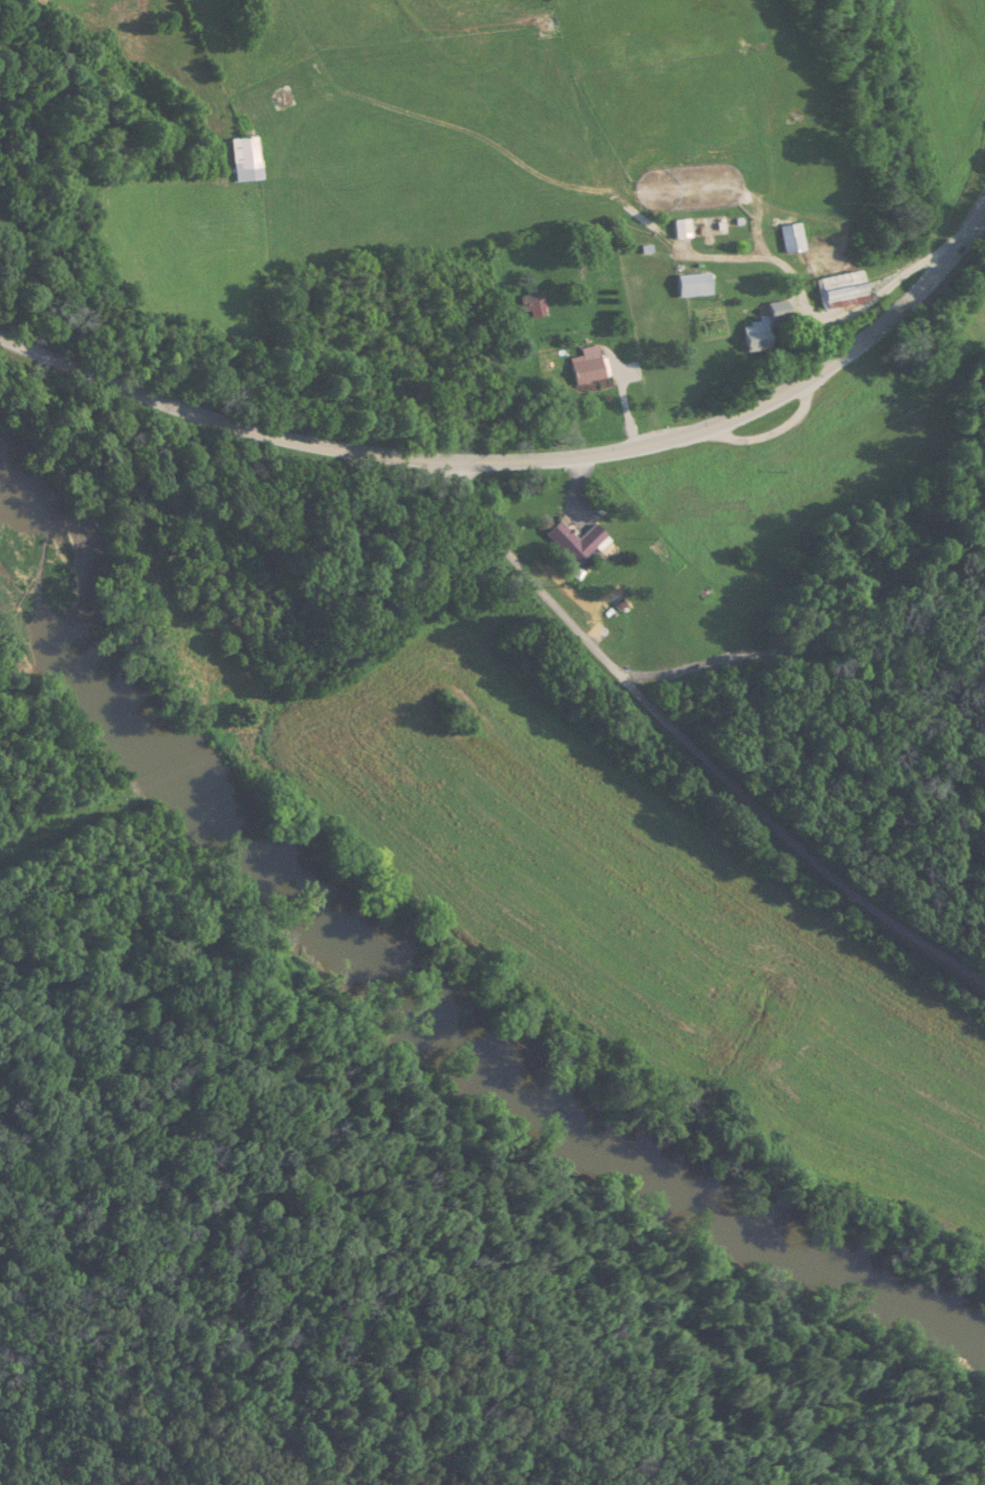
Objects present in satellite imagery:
building: (243, 159)
building: (676, 226)
building: (785, 237)
building: (687, 284)
building: (833, 289)
building: (530, 304)
building: (748, 335)
building: (583, 365)
road: (767, 434)
road: (526, 459)
building: (569, 540)
road: (695, 744)
river: (408, 960)

